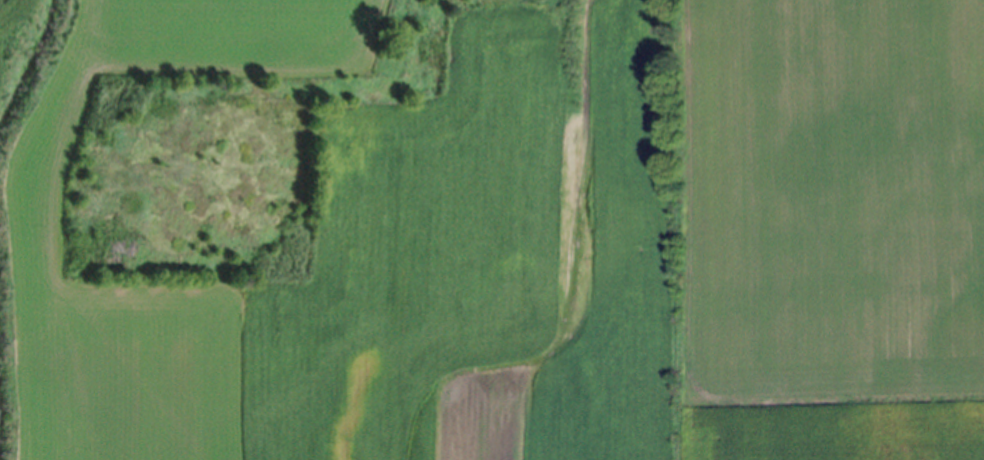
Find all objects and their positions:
crop: (8, 22)

